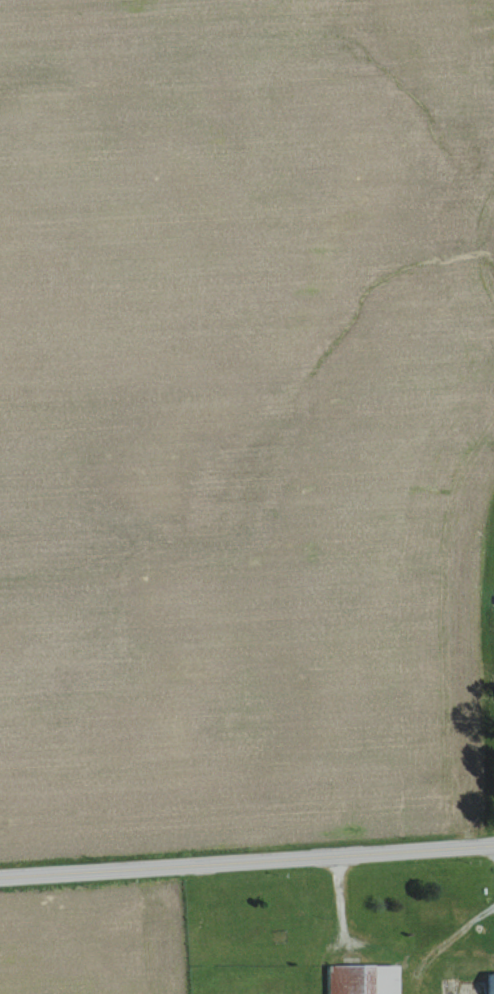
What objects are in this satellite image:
building: (493, 623)
road: (247, 860)
building: (436, 910)
building: (362, 978)
building: (491, 982)

